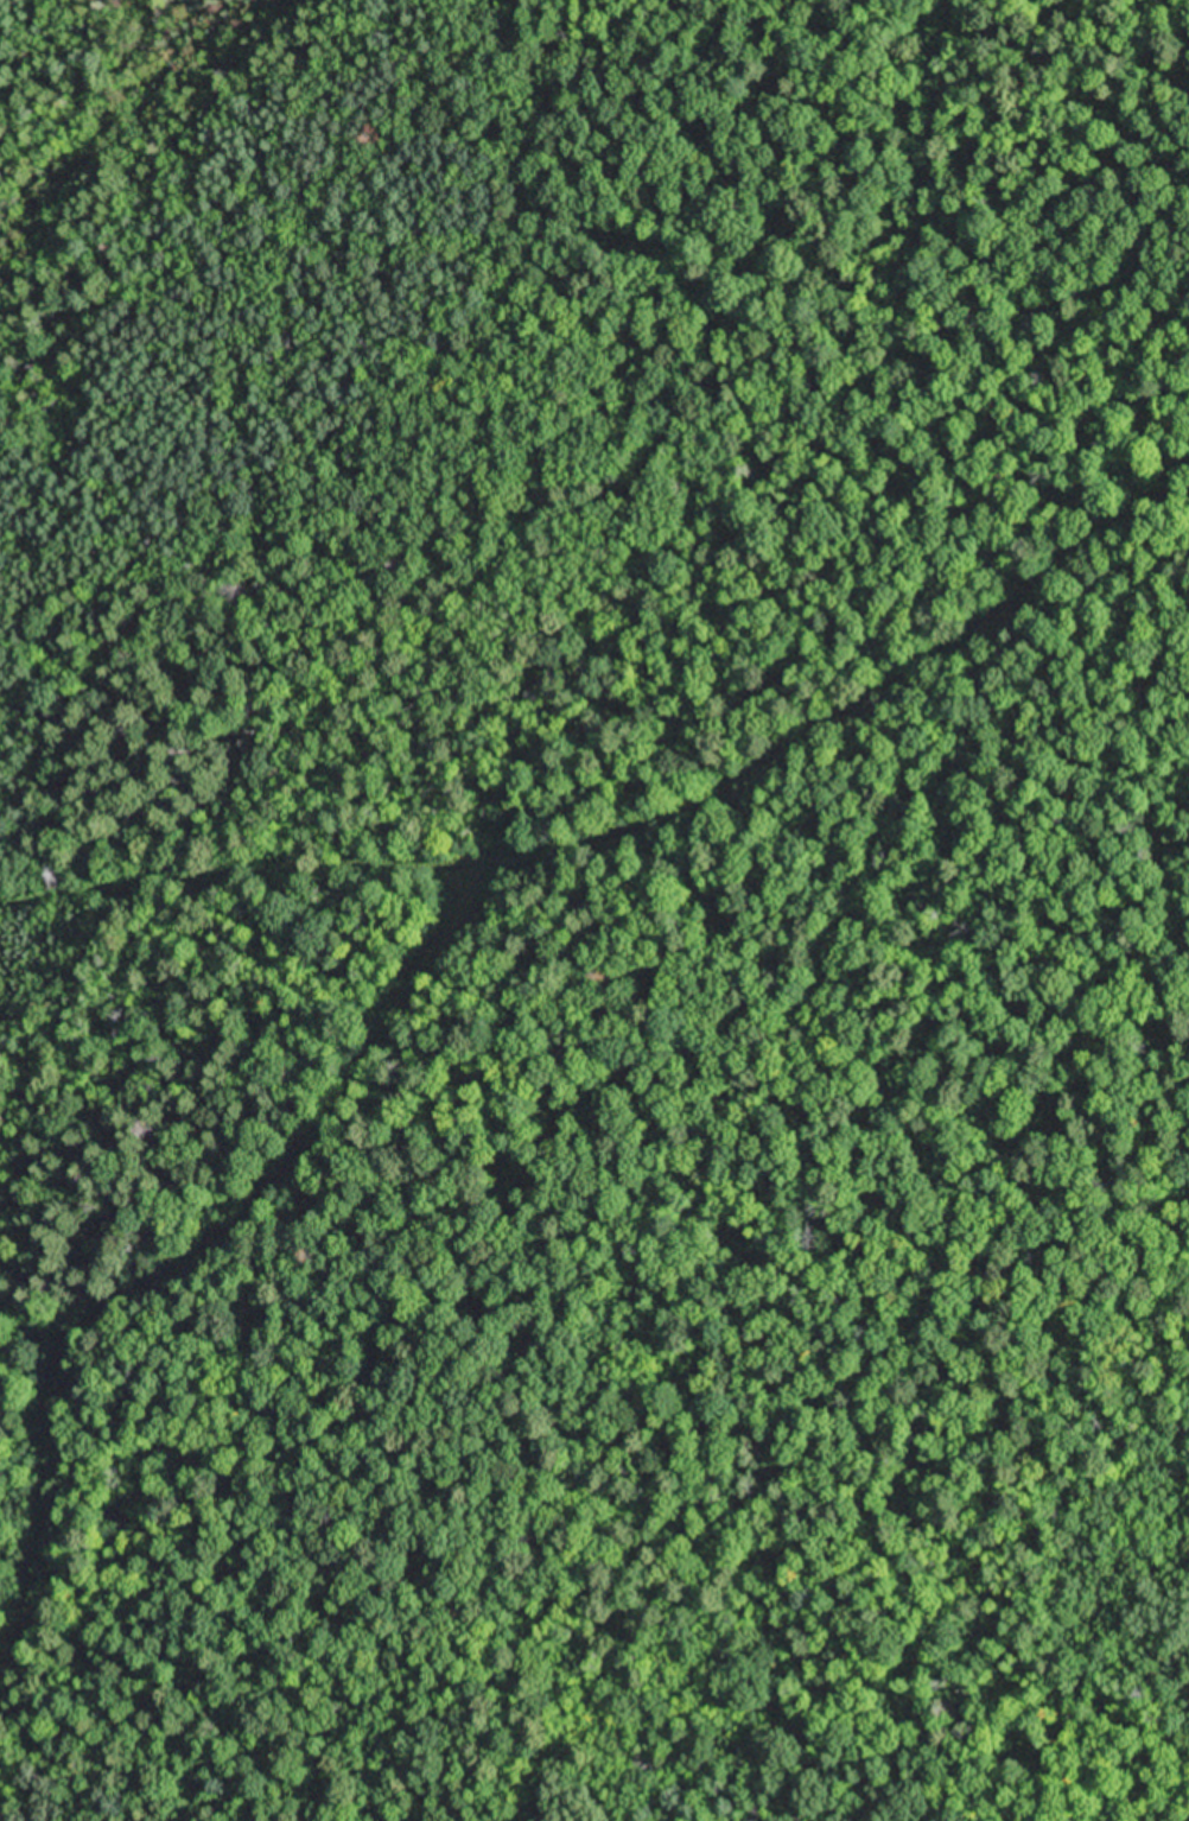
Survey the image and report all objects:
road: (642, 808)

